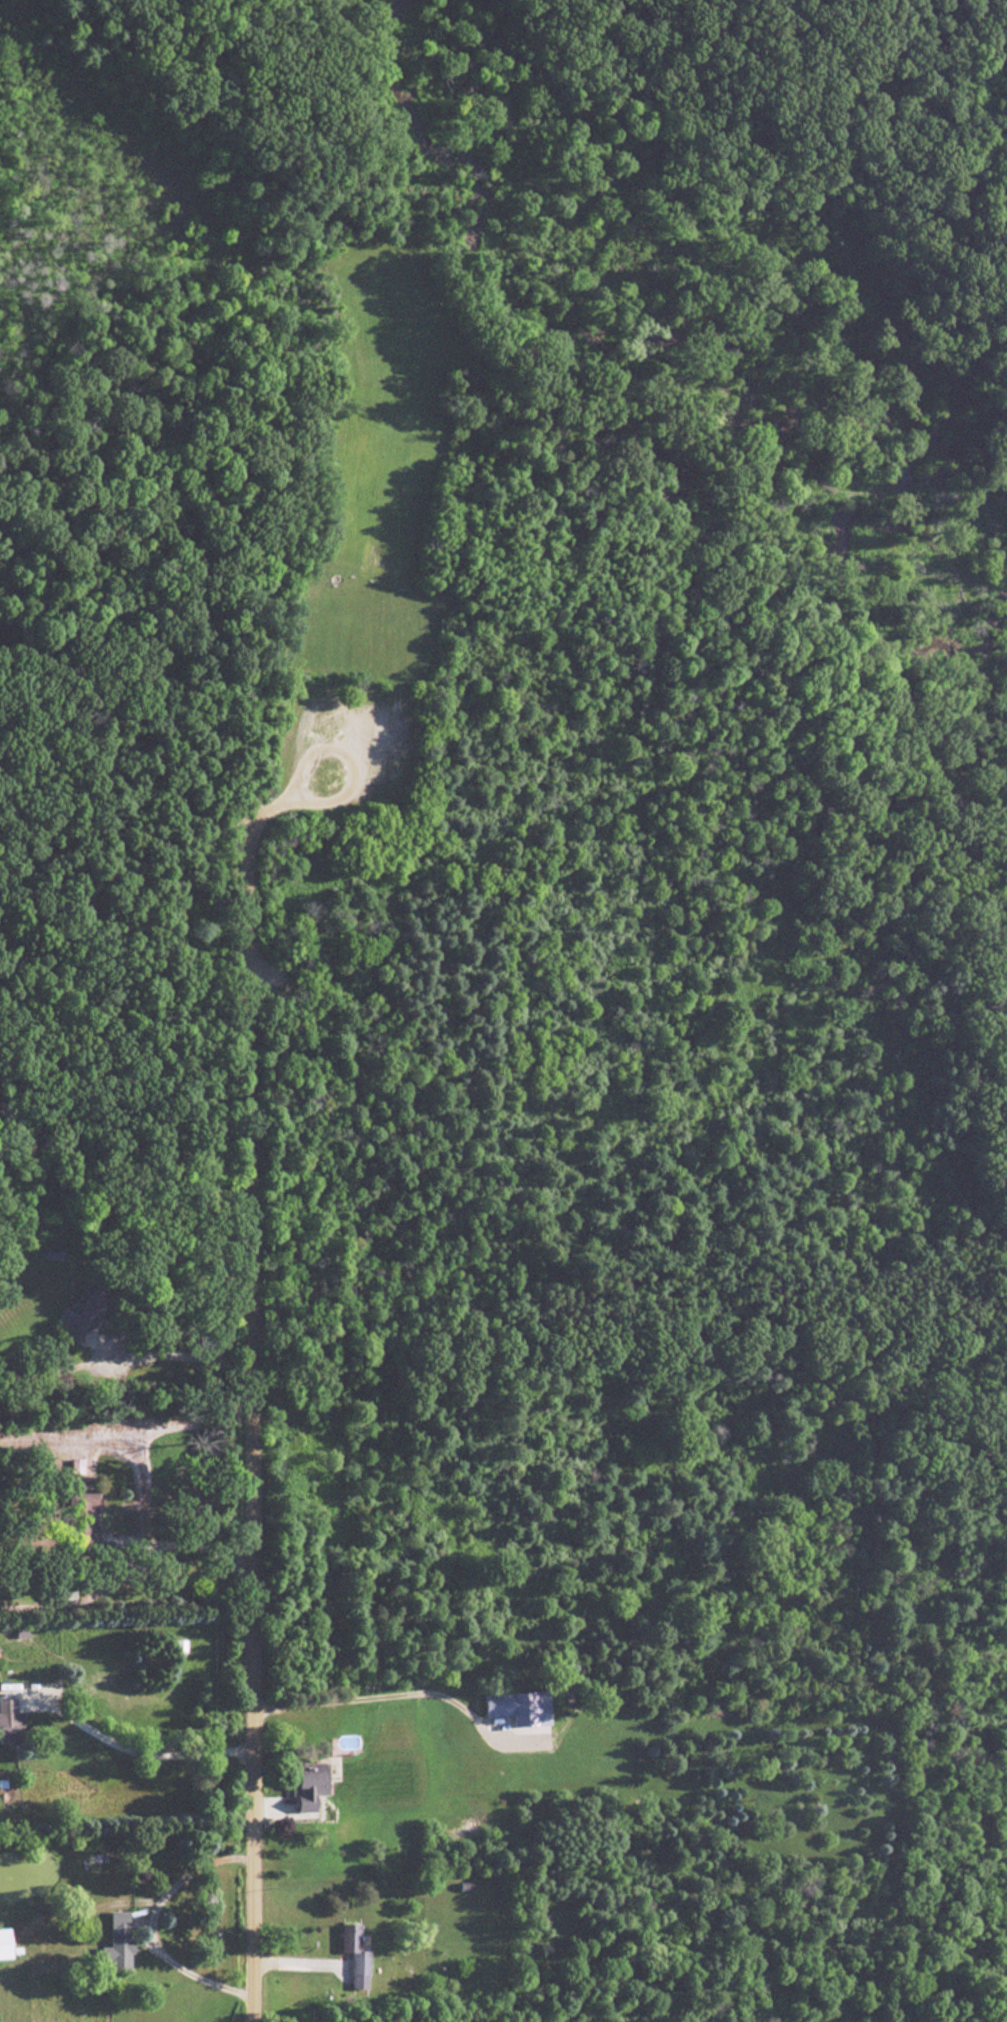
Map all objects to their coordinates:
road: (358, 647)
road: (388, 730)
parking lot: (343, 750)
park: (552, 824)
building: (84, 1316)
road: (173, 1357)
road: (253, 1405)
building: (82, 1520)
road: (187, 1542)
road: (363, 1698)
building: (515, 1707)
building: (12, 1722)
road: (119, 1747)
building: (313, 1792)
road: (150, 1924)
building: (8, 1942)
building: (121, 1942)
building: (356, 1956)

